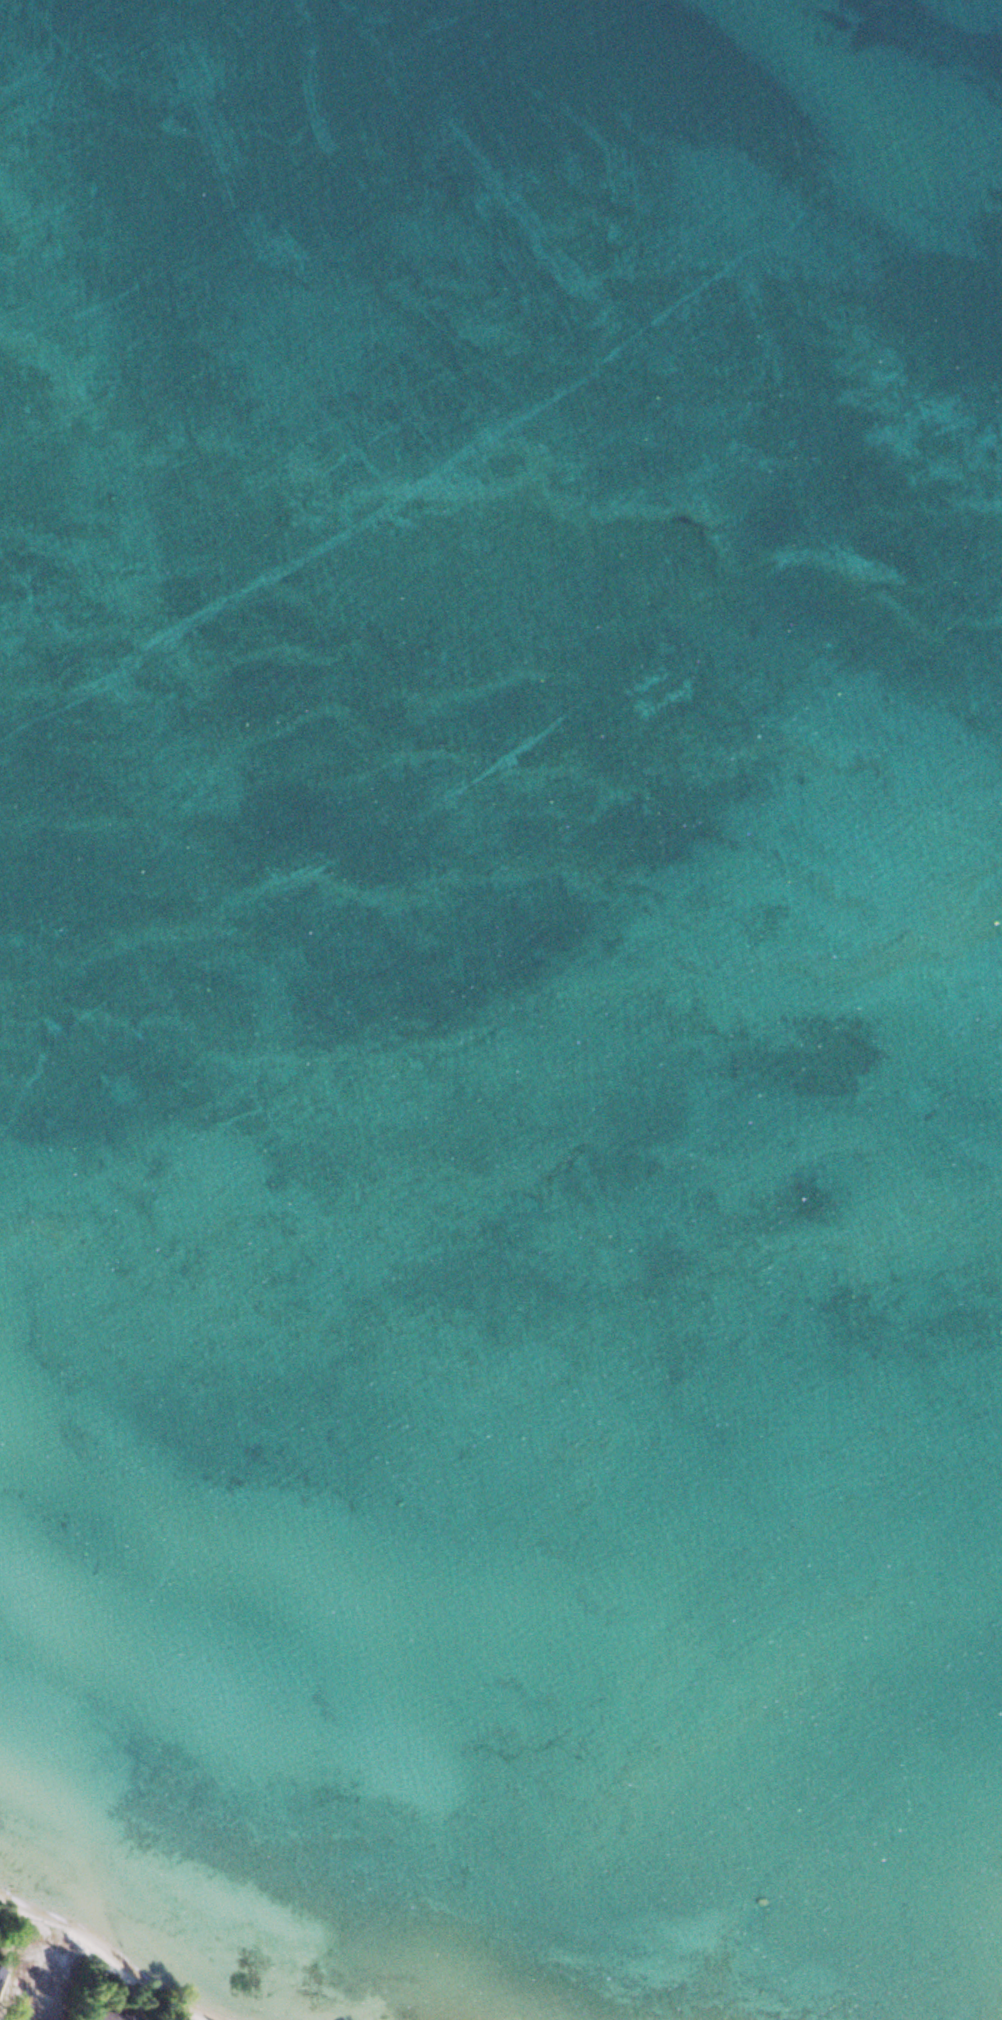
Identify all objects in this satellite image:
building: (112, 2015)

